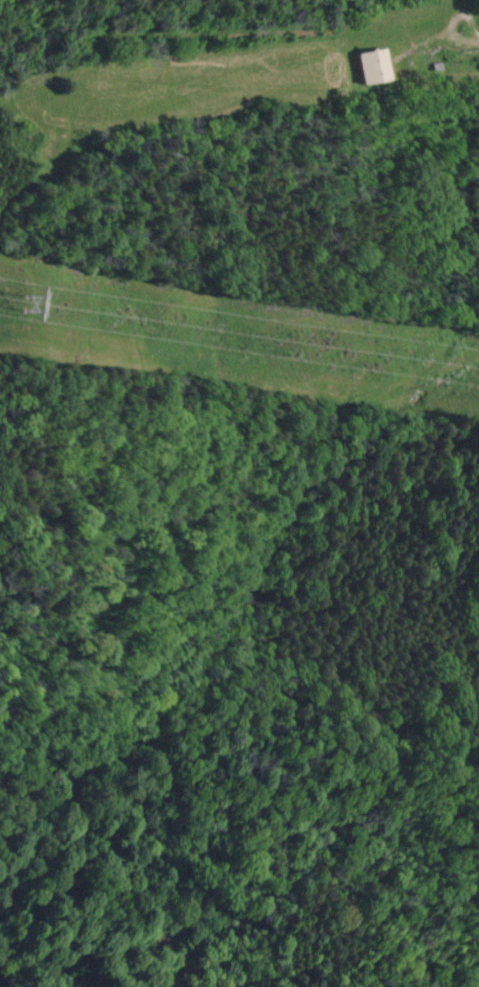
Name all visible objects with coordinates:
road: (442, 46)
building: (369, 68)
power tower: (23, 305)

